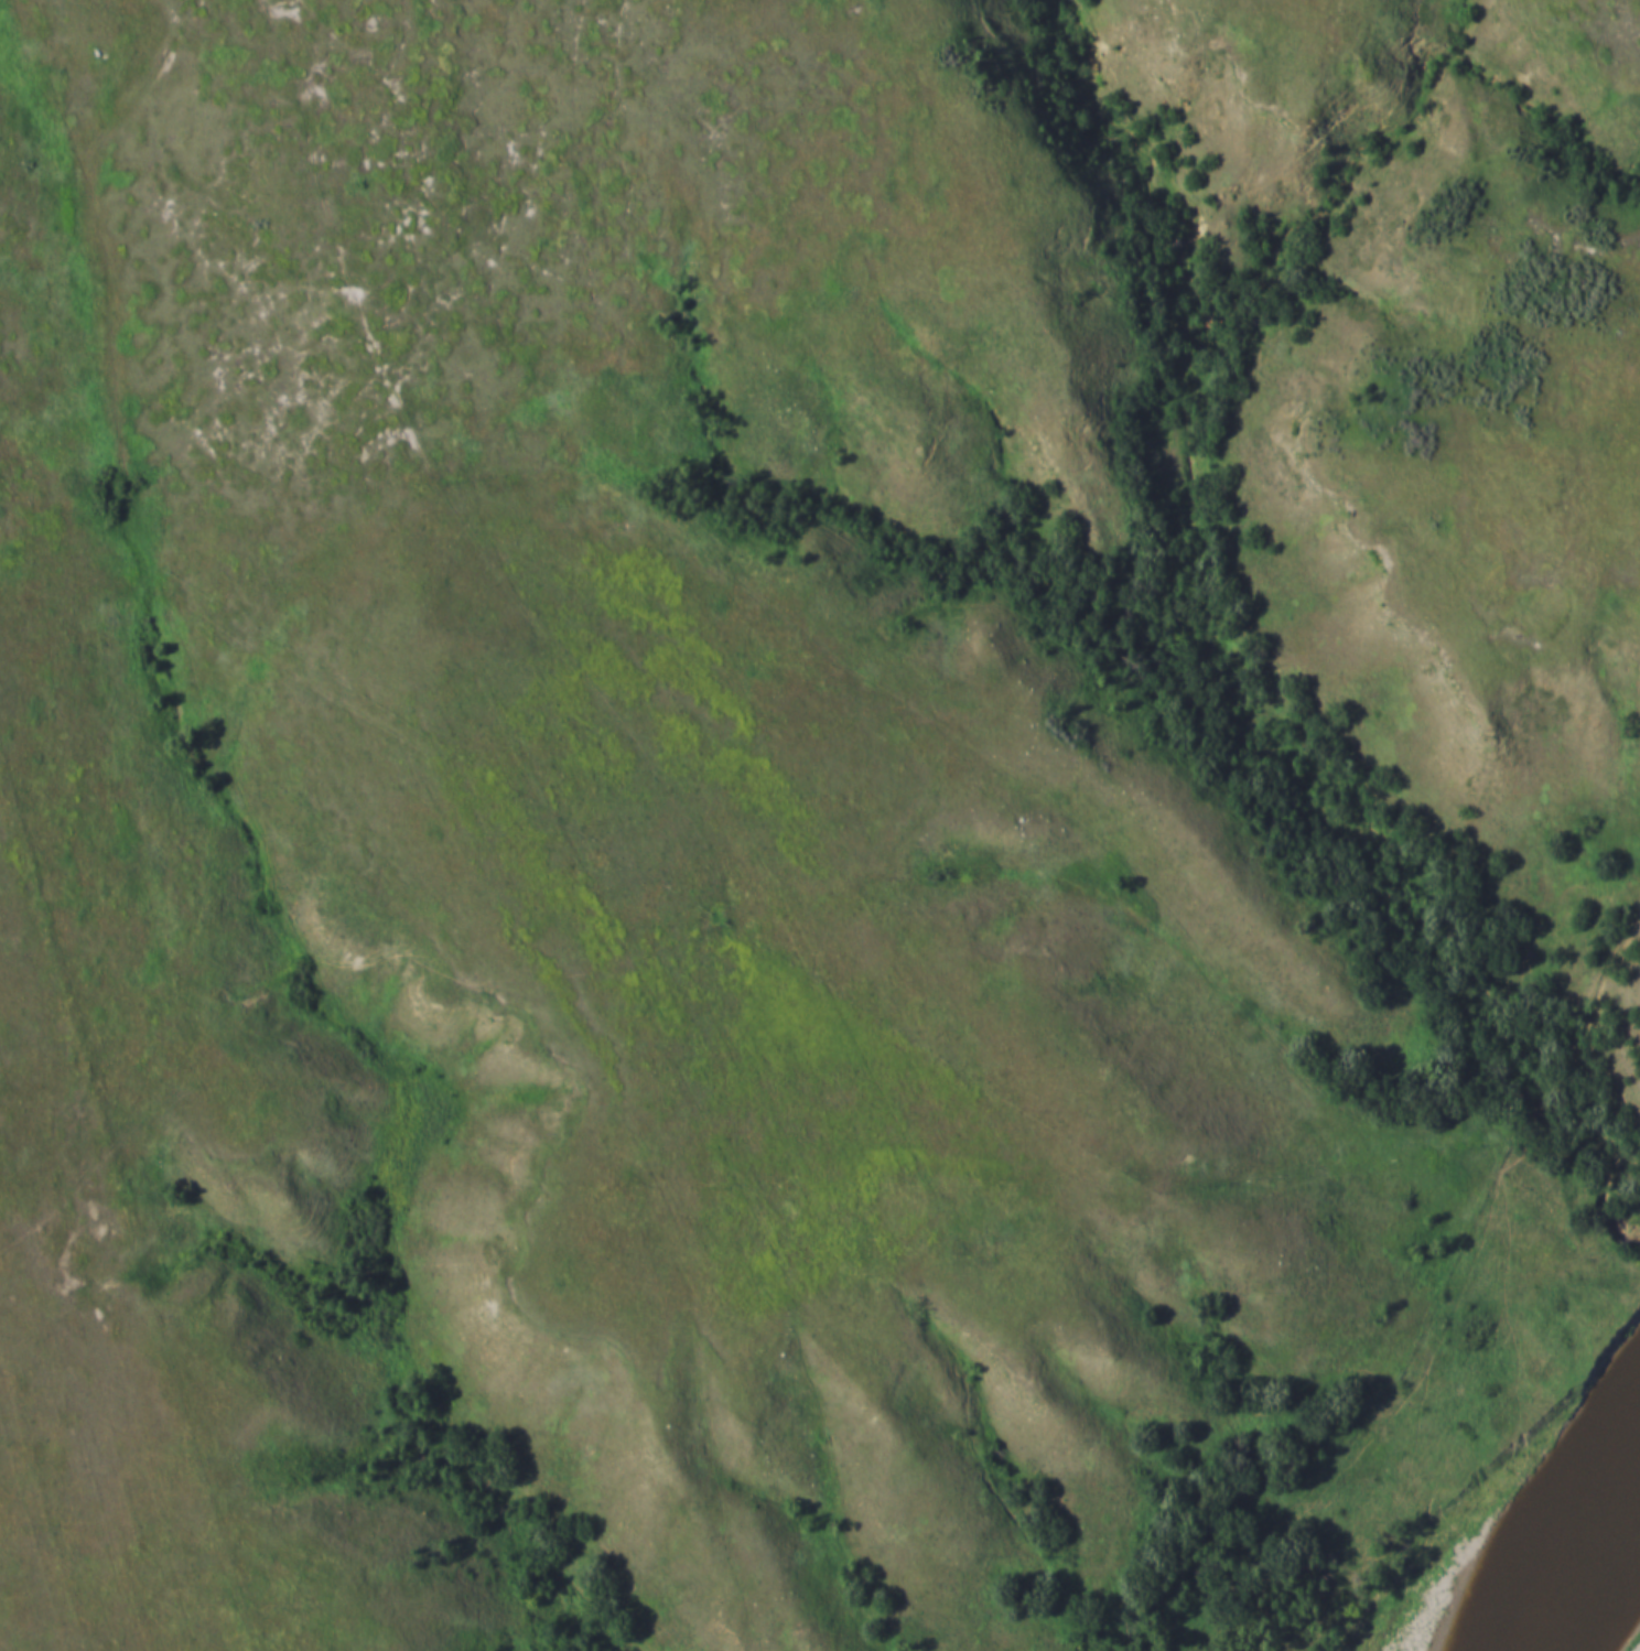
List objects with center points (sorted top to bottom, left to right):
river: (1575, 1562)

